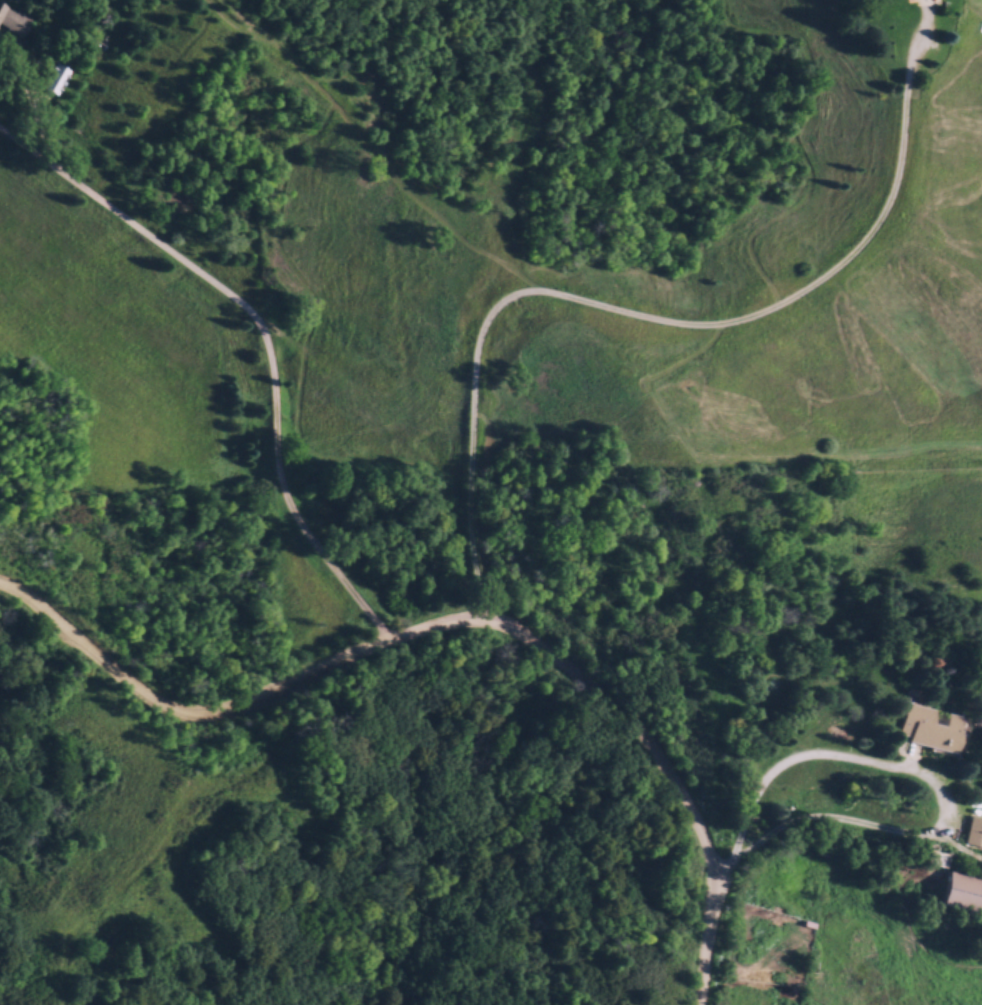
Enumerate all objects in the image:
building: (14, 19)
road: (641, 315)
road: (180, 711)
road: (645, 725)
building: (918, 725)
park: (133, 757)
road: (922, 775)
building: (972, 831)
building: (958, 891)

